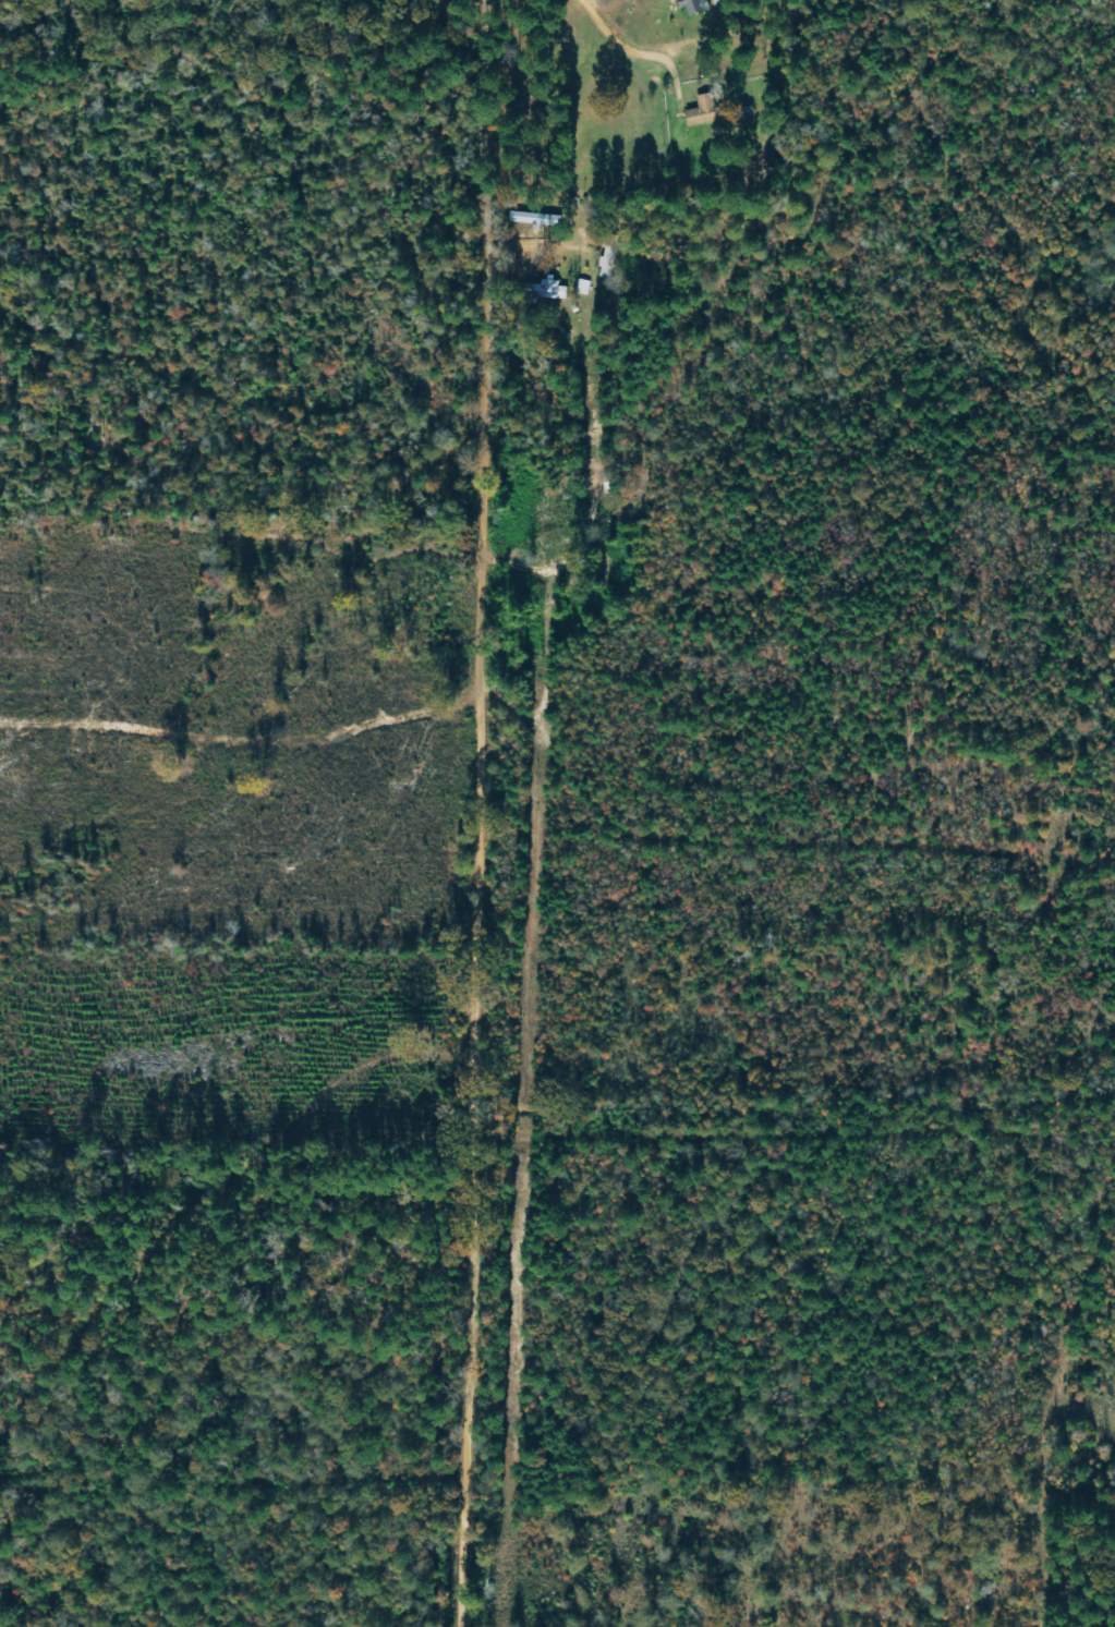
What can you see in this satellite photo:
building: (693, 5)
road: (621, 39)
building: (702, 112)
building: (583, 288)
building: (555, 289)
road: (469, 813)

